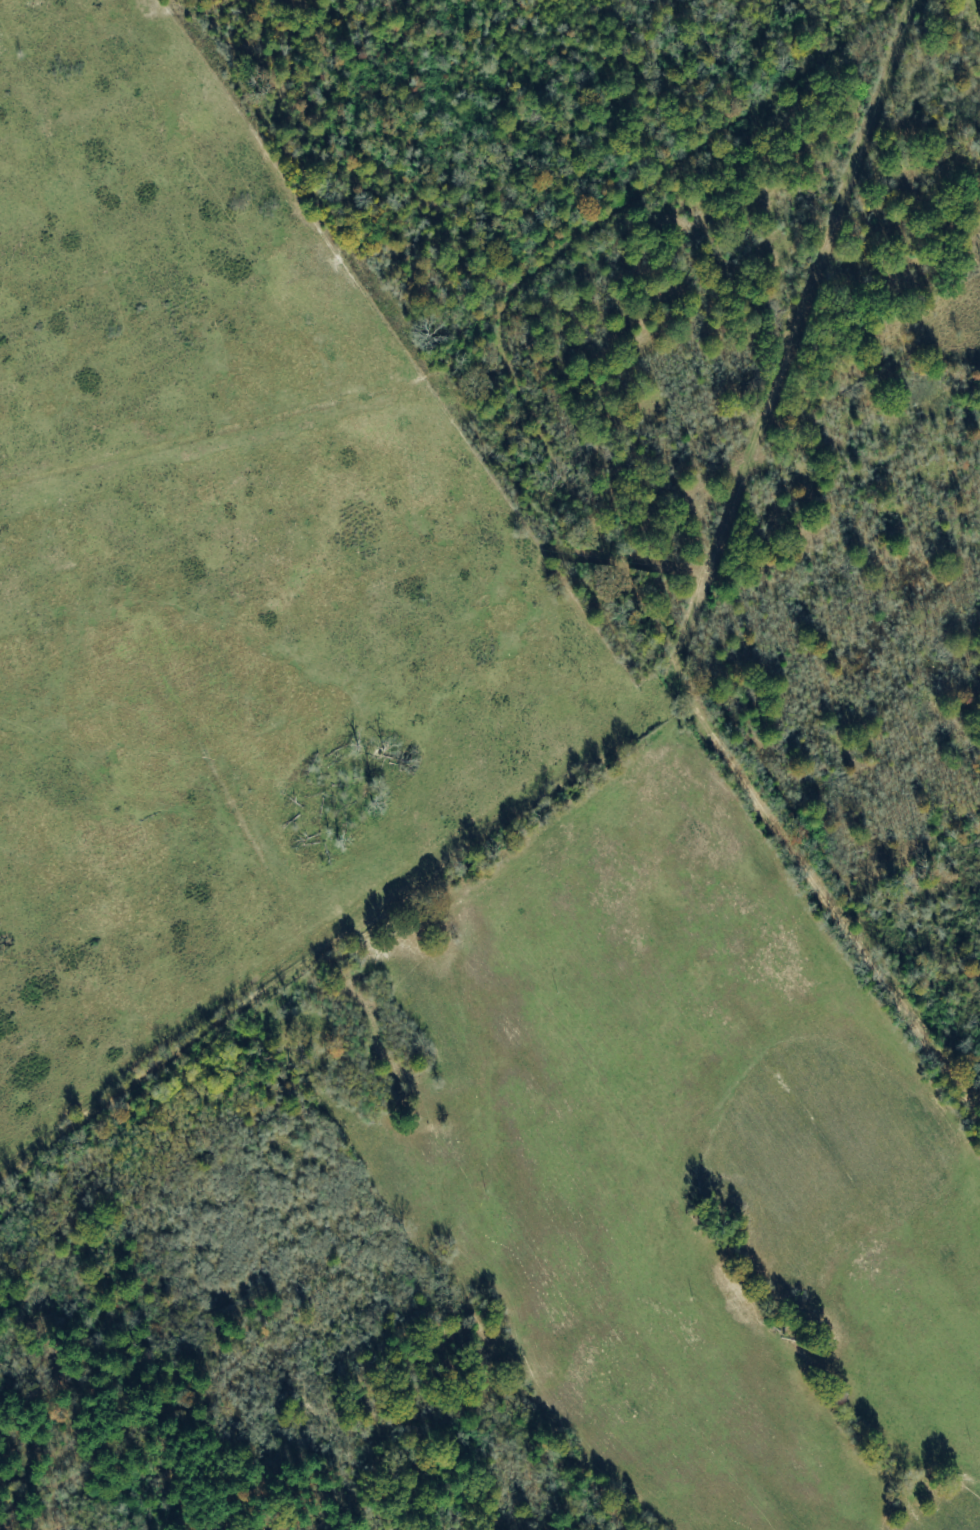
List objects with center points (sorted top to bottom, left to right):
road: (581, 536)

